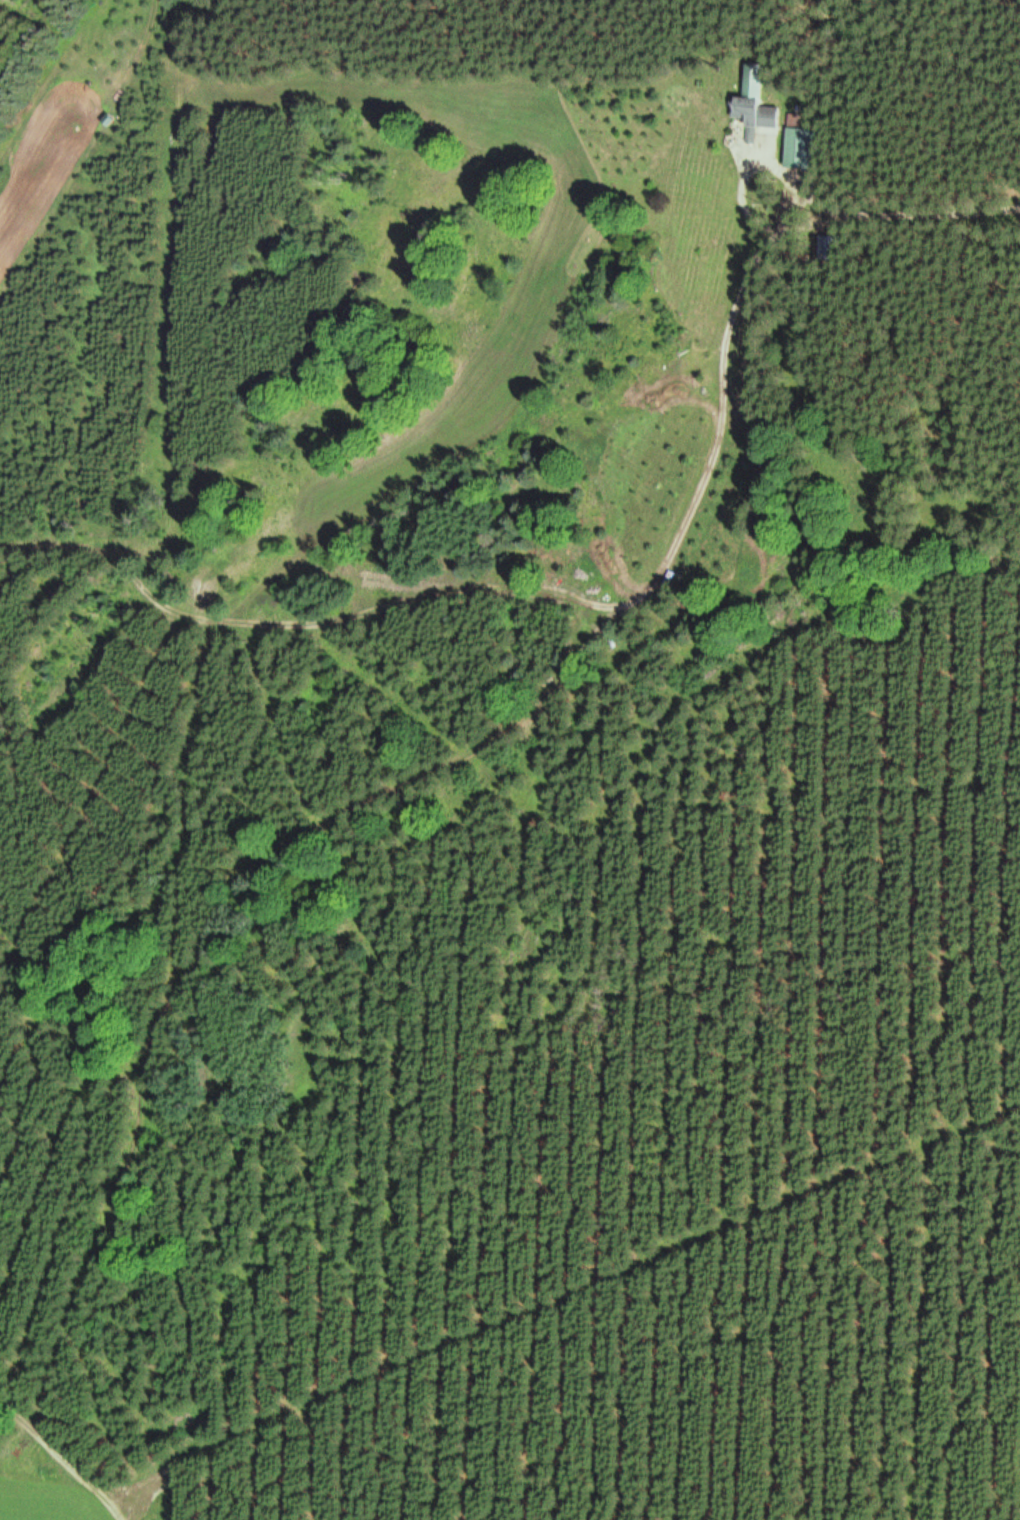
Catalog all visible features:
road: (899, 211)
road: (511, 588)
road: (62, 1459)

